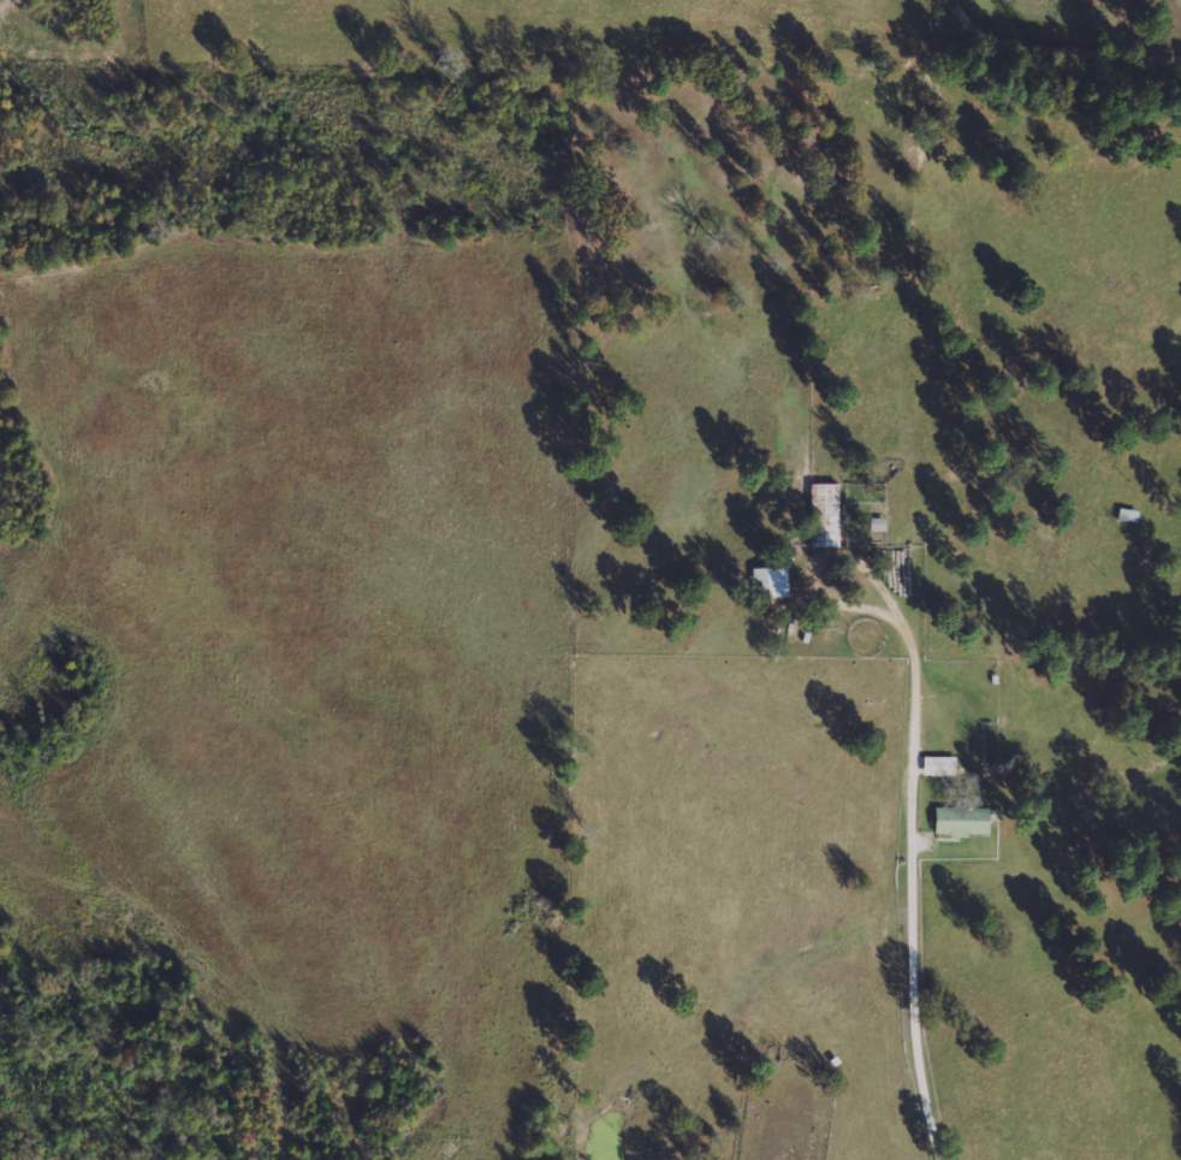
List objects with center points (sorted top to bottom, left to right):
road: (1062, 48)
building: (825, 515)
building: (878, 525)
building: (770, 582)
building: (939, 765)
building: (962, 821)
road: (916, 993)

